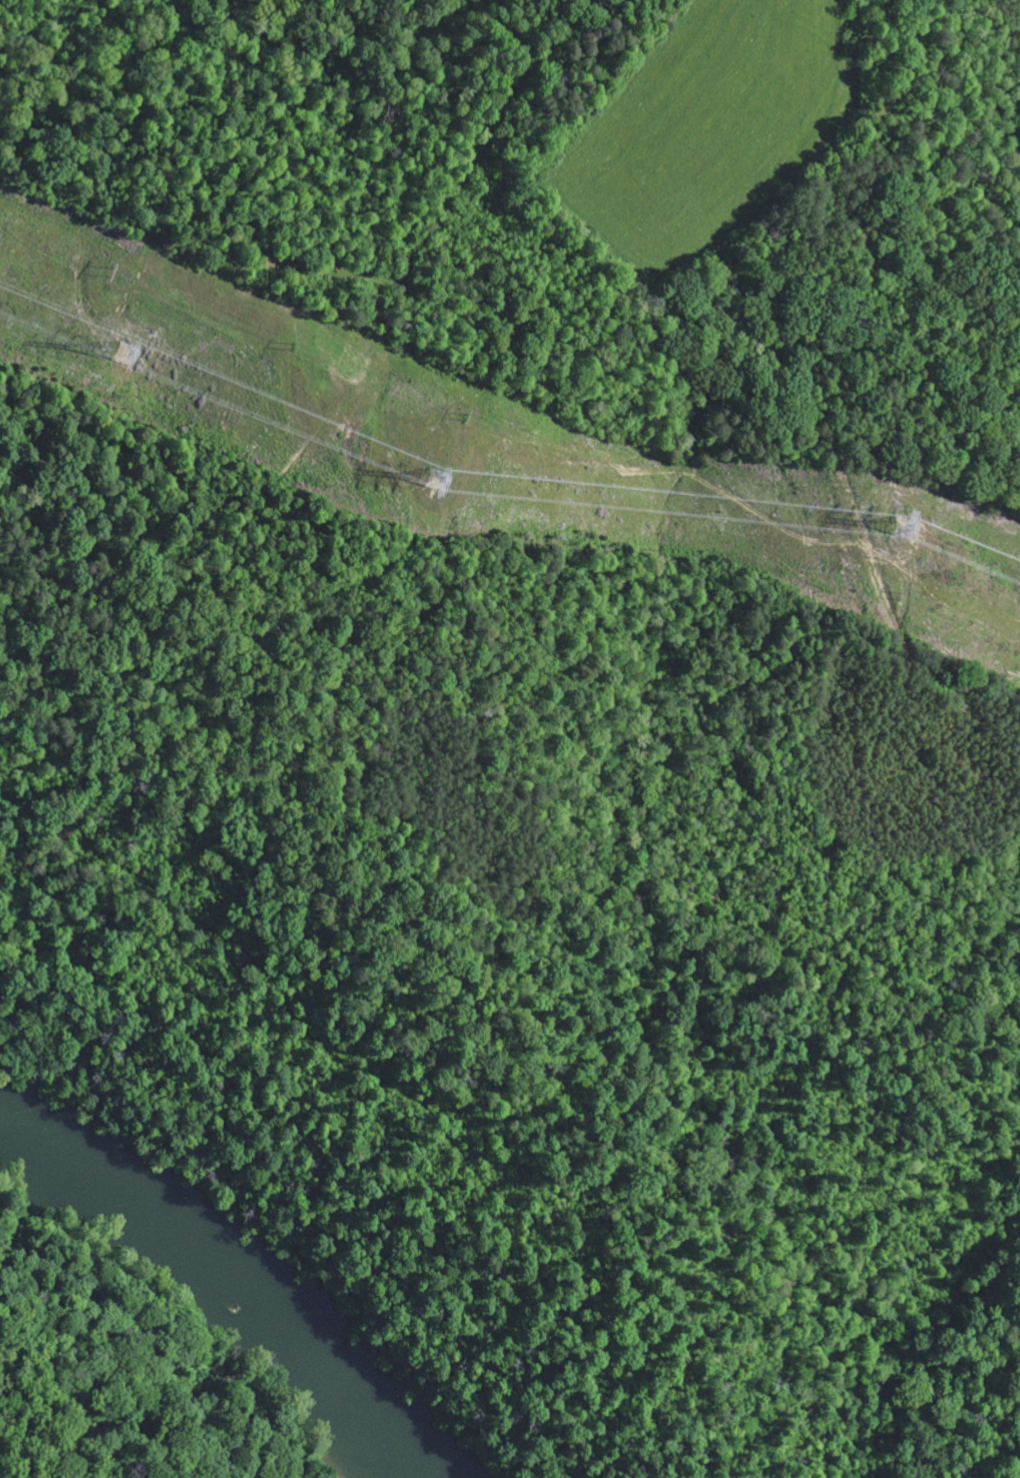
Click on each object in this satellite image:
power tower: (113, 349)
power tower: (429, 479)
power tower: (885, 528)
river: (234, 1267)

